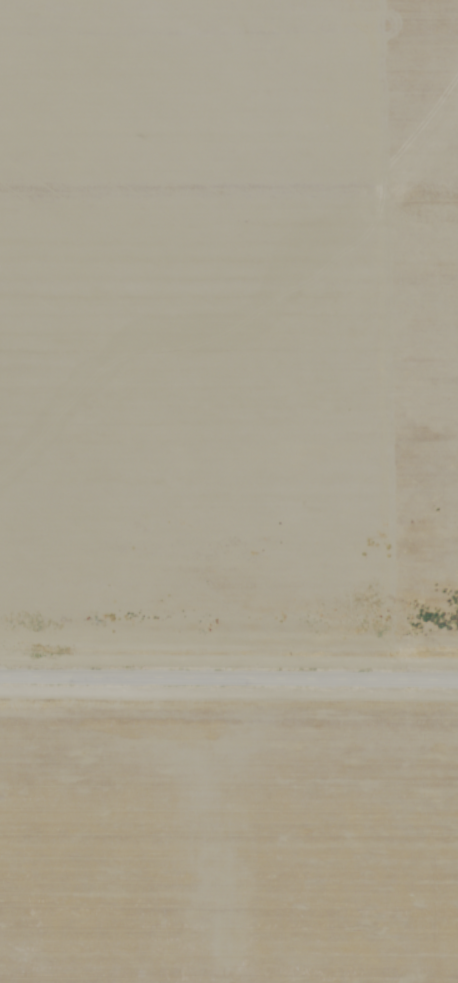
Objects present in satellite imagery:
road: (229, 676)

